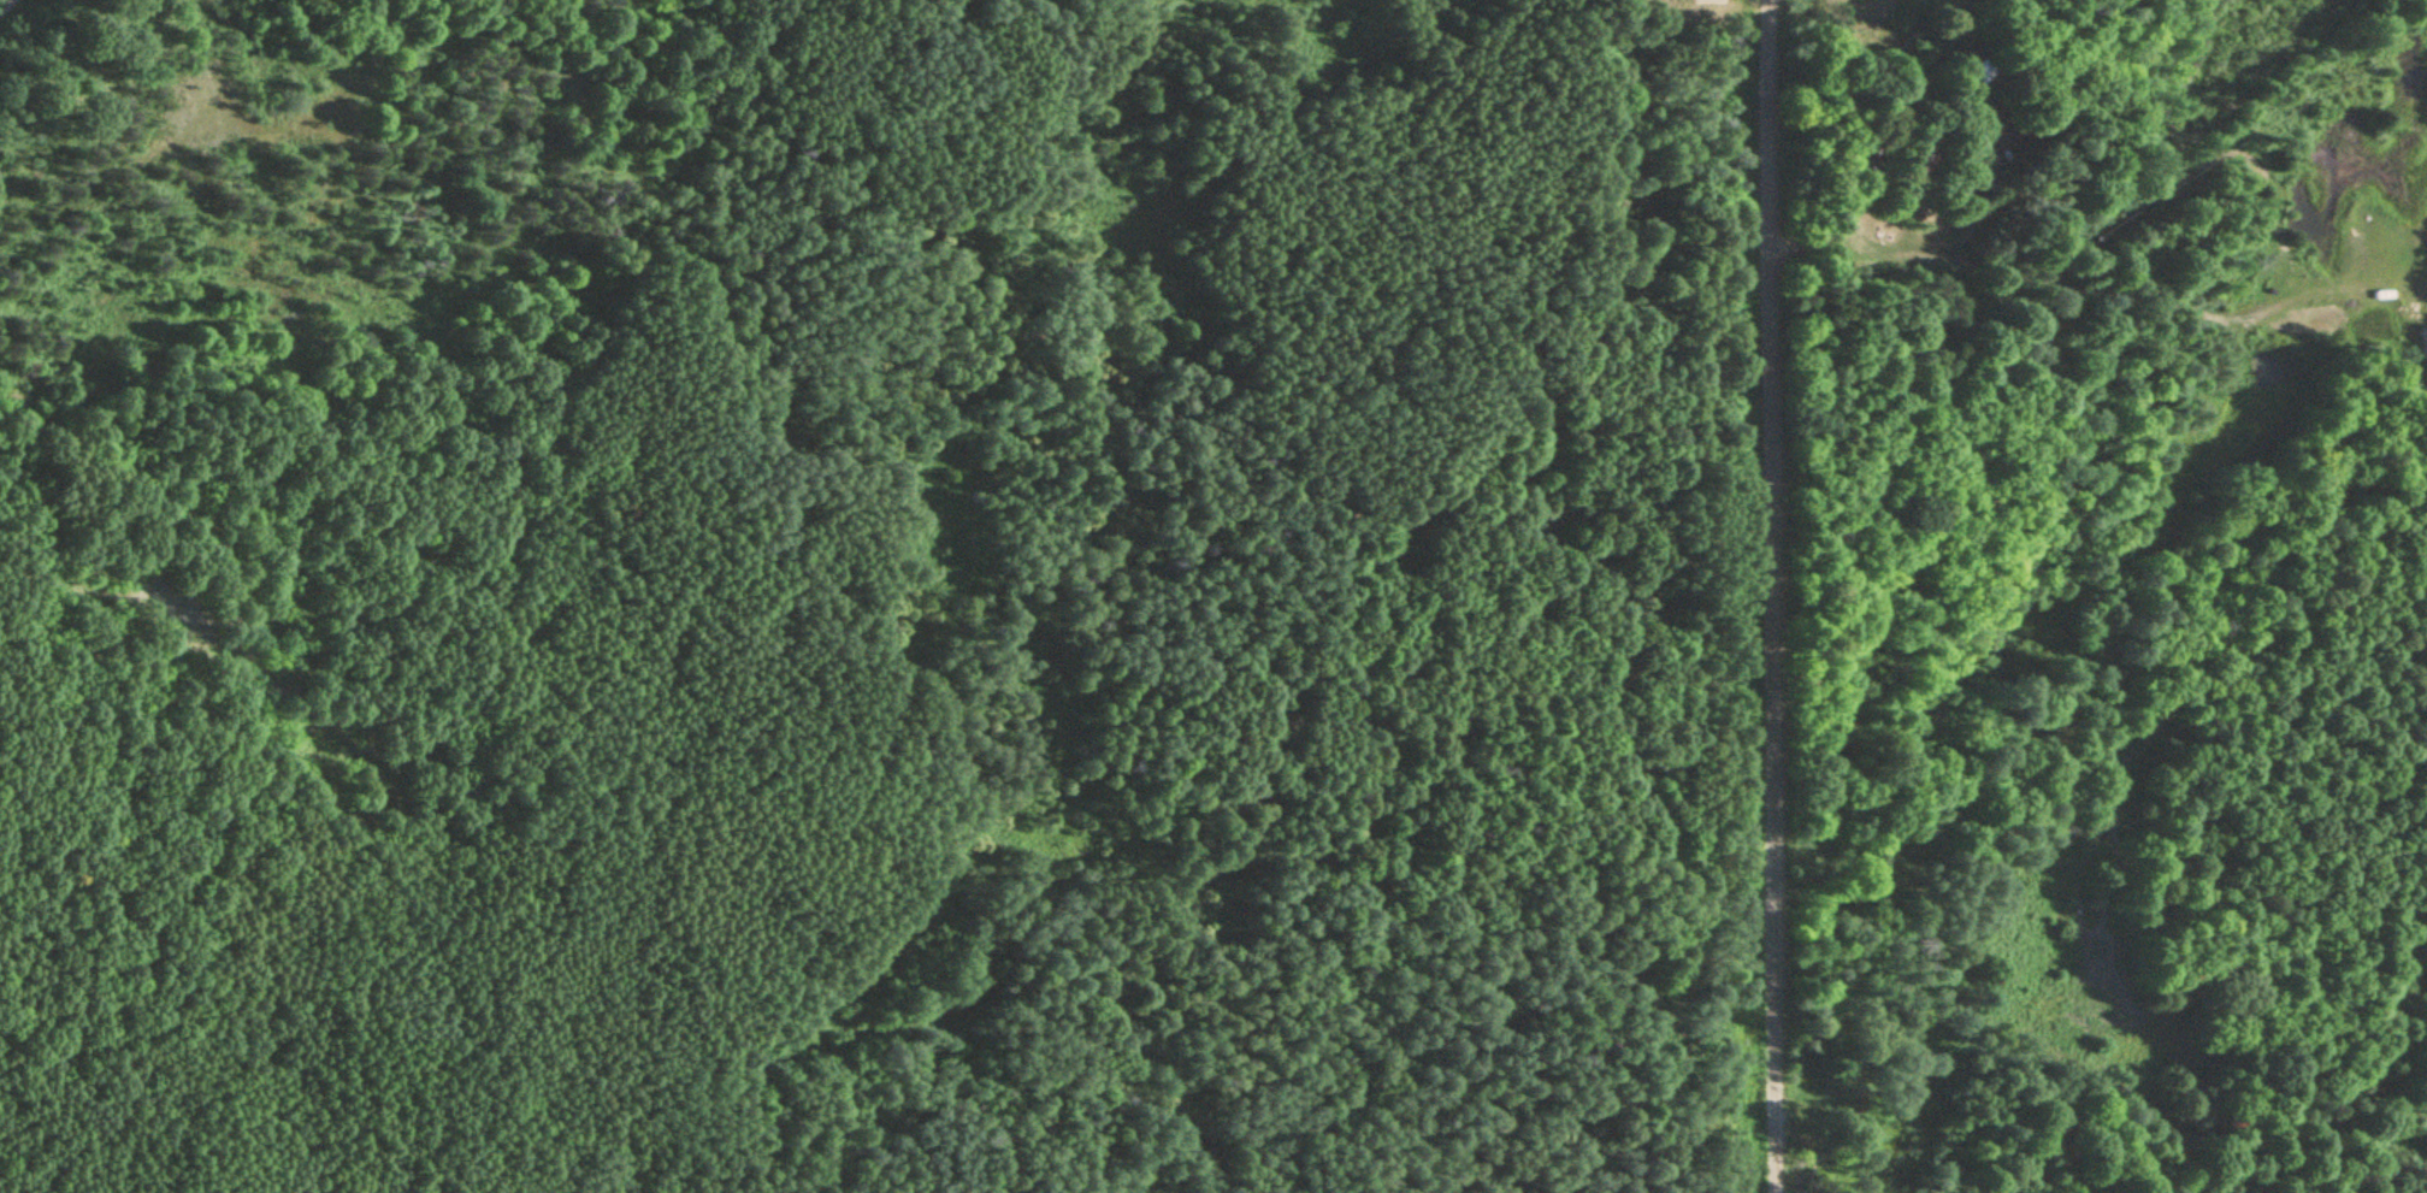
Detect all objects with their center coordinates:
road: (6, 6)
building: (1991, 71)
building: (1876, 155)
building: (1920, 160)
road: (1837, 237)
road: (1777, 596)

